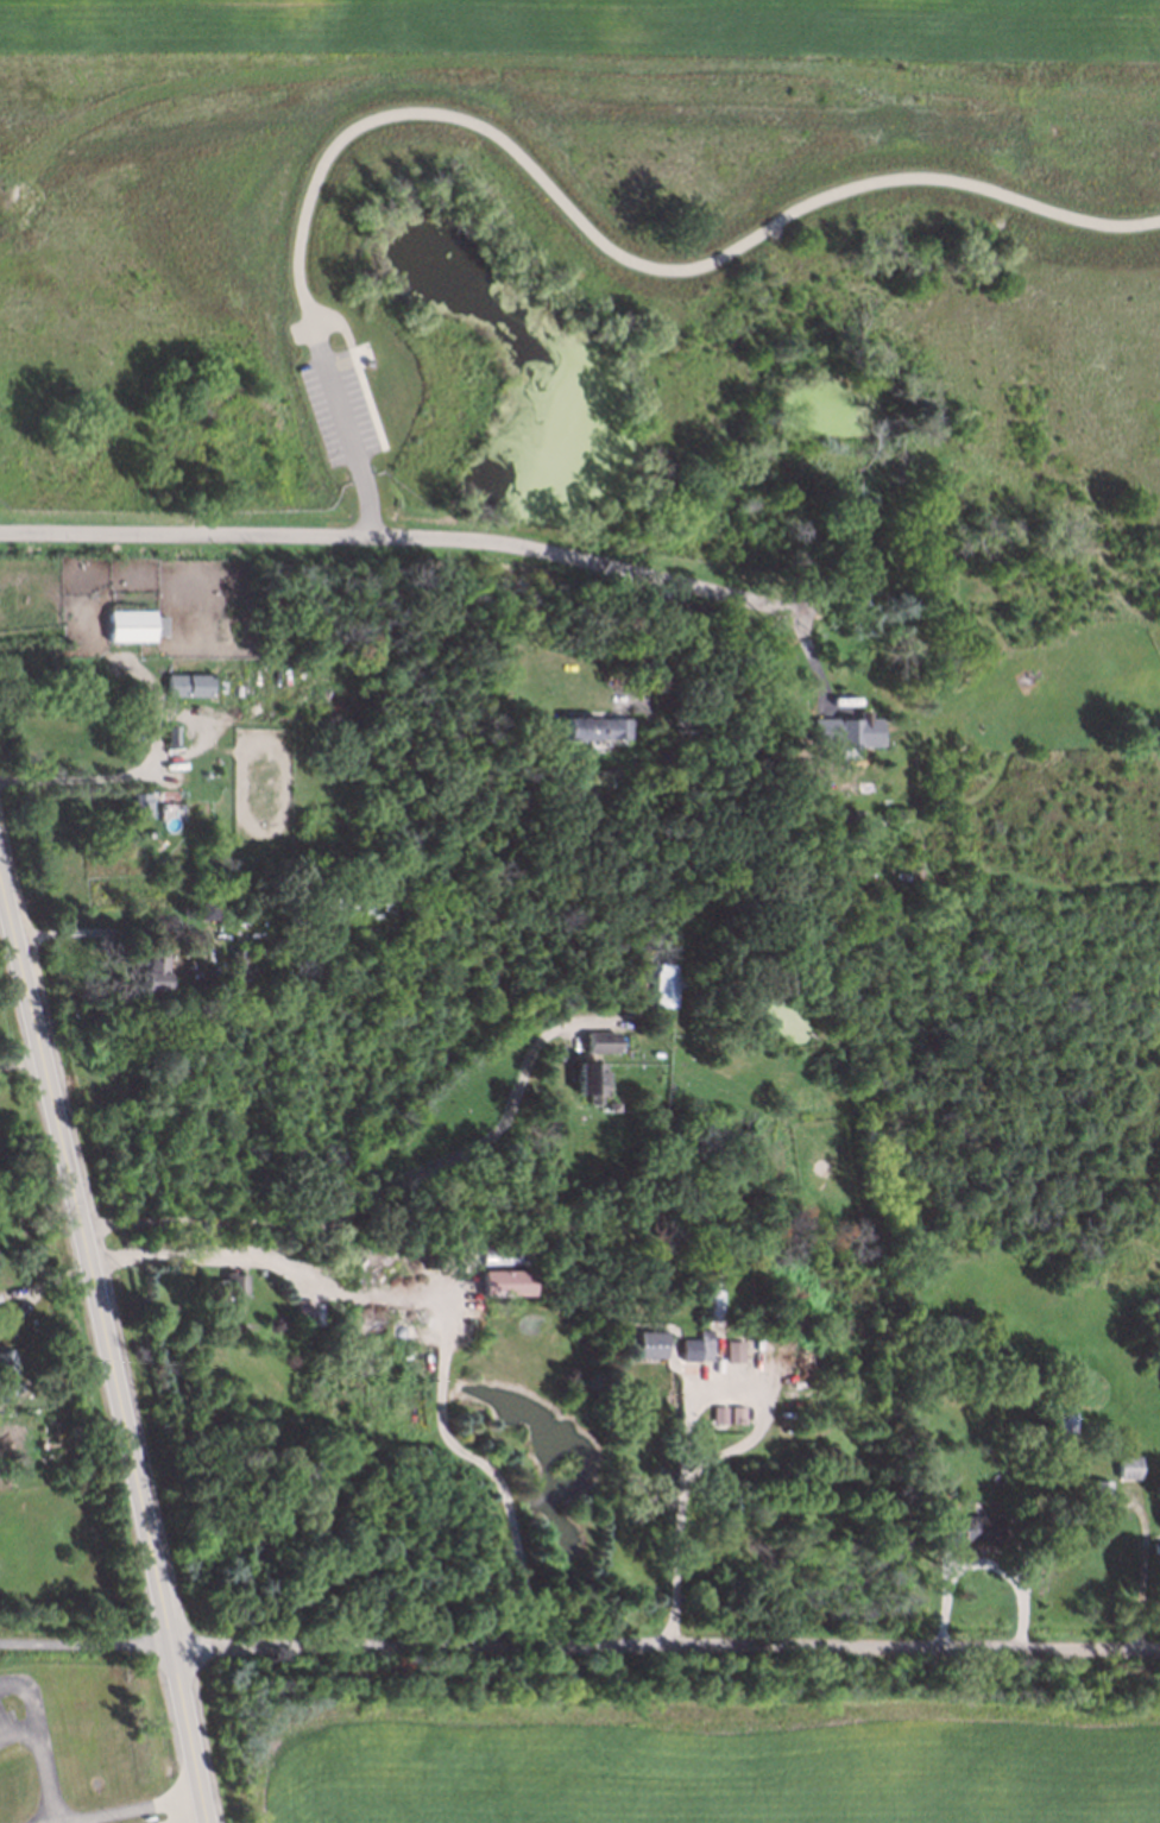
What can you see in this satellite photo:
road: (546, 184)
road: (301, 297)
parking lot: (338, 408)
road: (351, 449)
road: (410, 540)
building: (132, 626)
road: (651, 648)
building: (188, 685)
road: (194, 717)
building: (597, 728)
building: (845, 731)
road: (78, 776)
building: (140, 803)
building: (207, 910)
road: (103, 934)
building: (153, 972)
building: (668, 988)
building: (603, 1042)
road: (21, 1062)
building: (590, 1080)
road: (387, 1192)
building: (508, 1282)
building: (234, 1285)
road: (455, 1302)
road: (445, 1308)
building: (305, 1310)
building: (650, 1344)
road: (108, 1348)
building: (698, 1348)
building: (736, 1351)
building: (5, 1363)
building: (720, 1414)
road: (692, 1415)
building: (738, 1415)
building: (1065, 1423)
building: (1128, 1469)
building: (1101, 1493)
building: (970, 1529)
building: (1155, 1553)
road: (981, 1564)
road: (1142, 1587)
road: (86, 1644)
road: (666, 1645)
road: (12, 1684)
road: (14, 1727)
road: (36, 1753)
road: (121, 1806)

